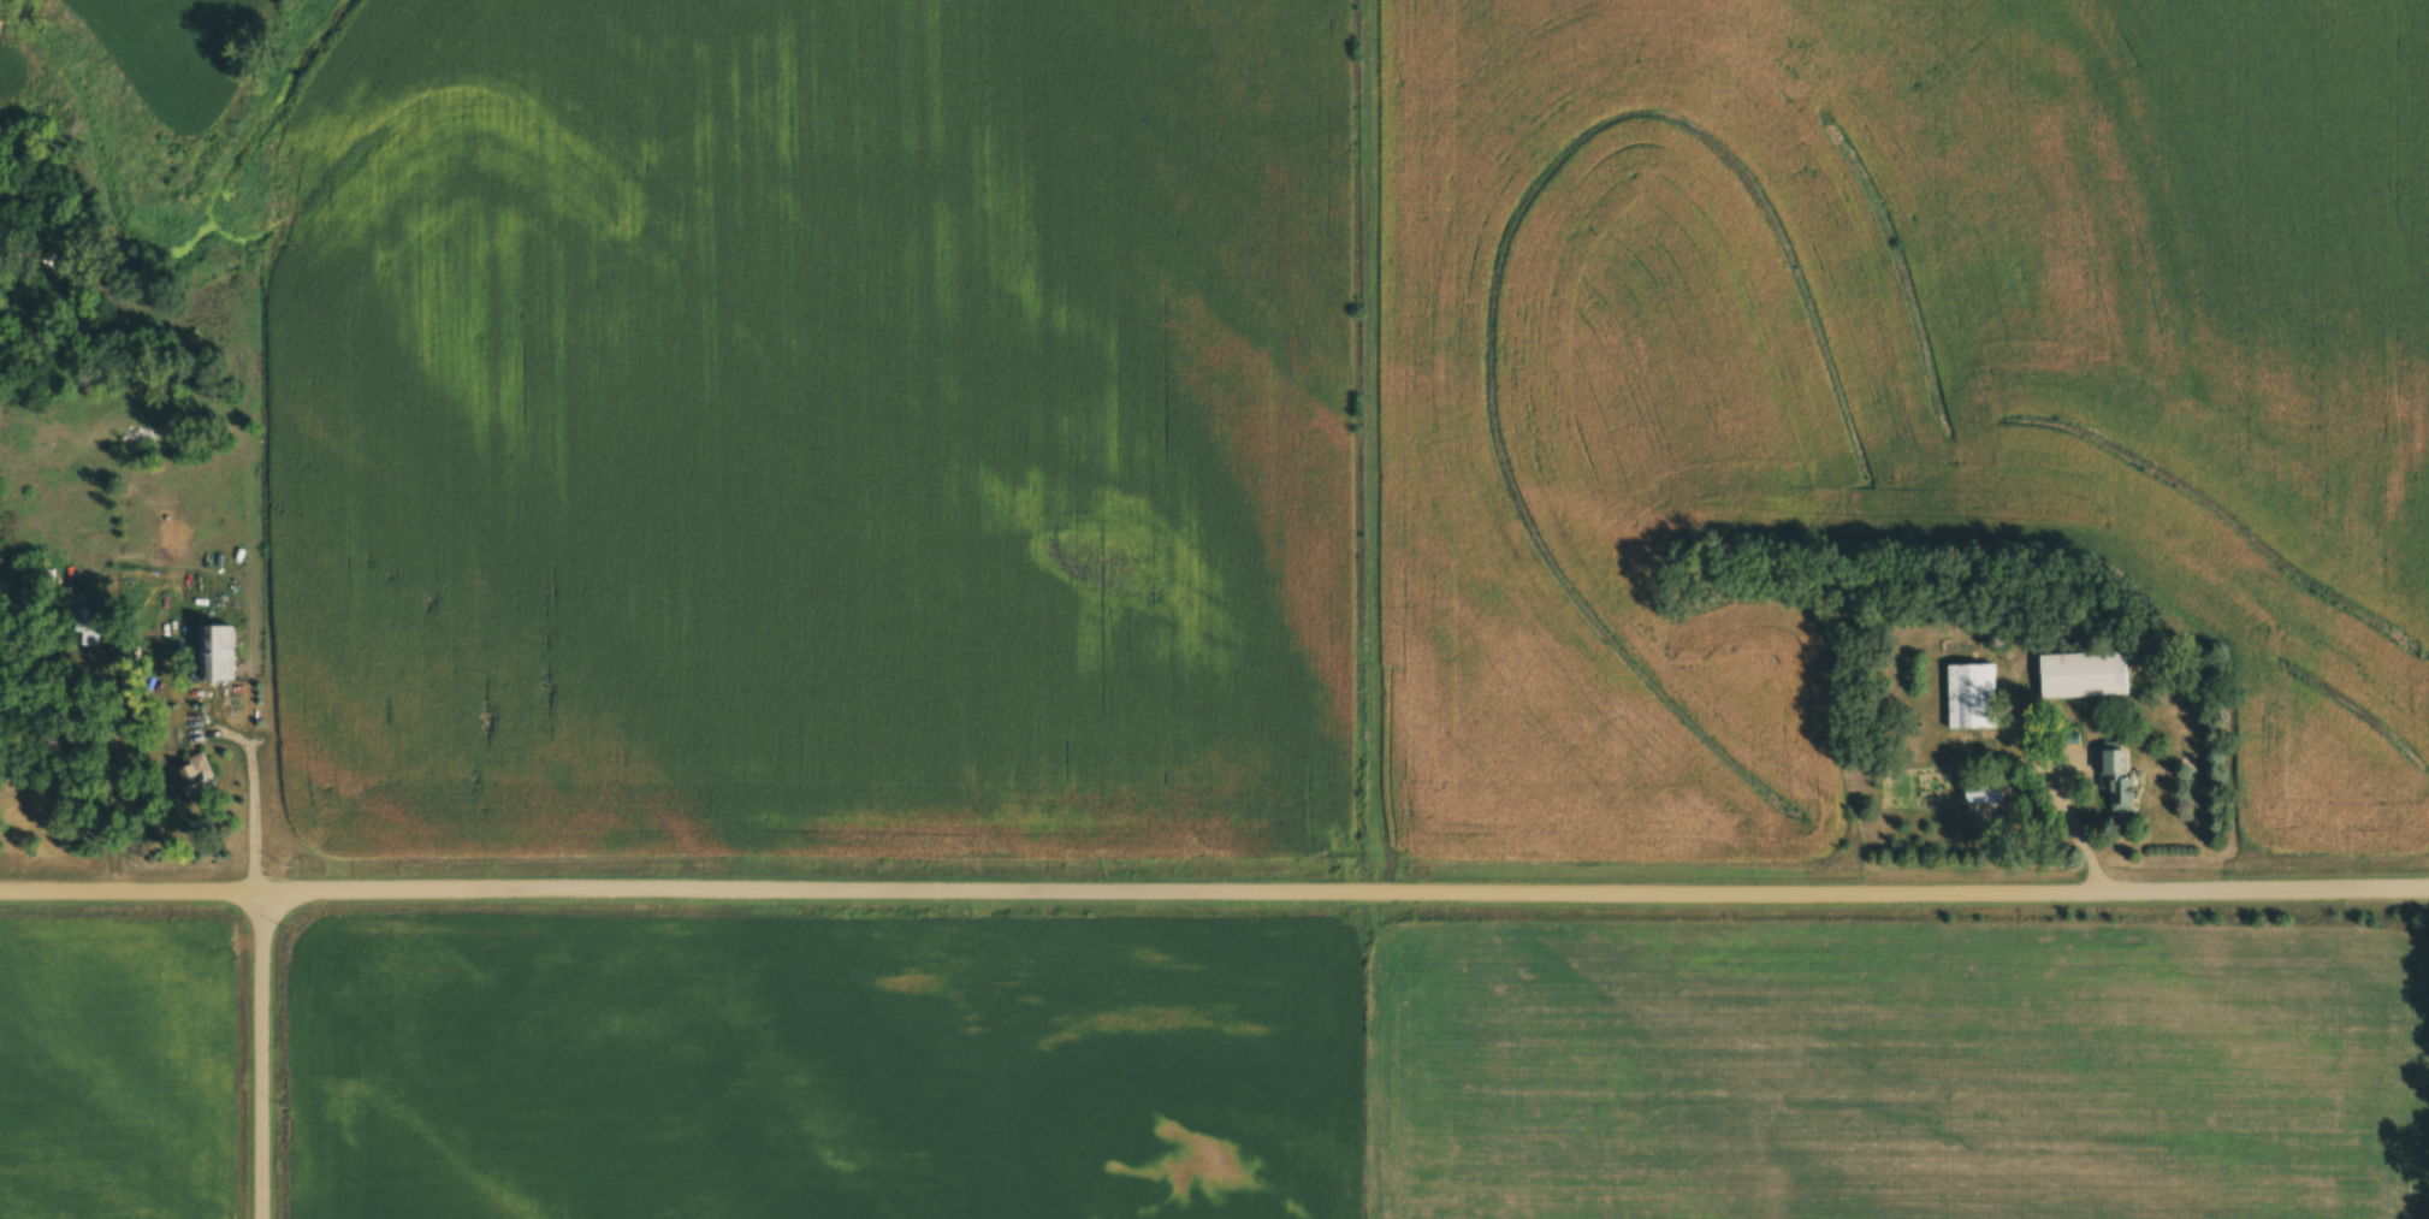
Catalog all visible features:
building: (83, 627)
building: (219, 663)
building: (2083, 674)
building: (1969, 696)
building: (2115, 773)
building: (192, 775)
road: (250, 787)
building: (1983, 792)
road: (2072, 826)
road: (1214, 889)
road: (2311, 929)
road: (2424, 934)
road: (261, 1054)

